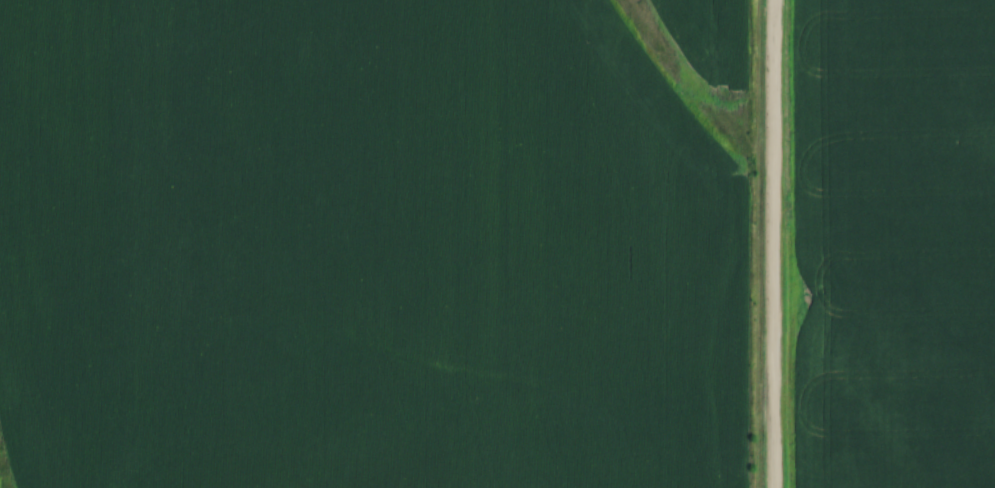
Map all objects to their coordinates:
road: (774, 244)

